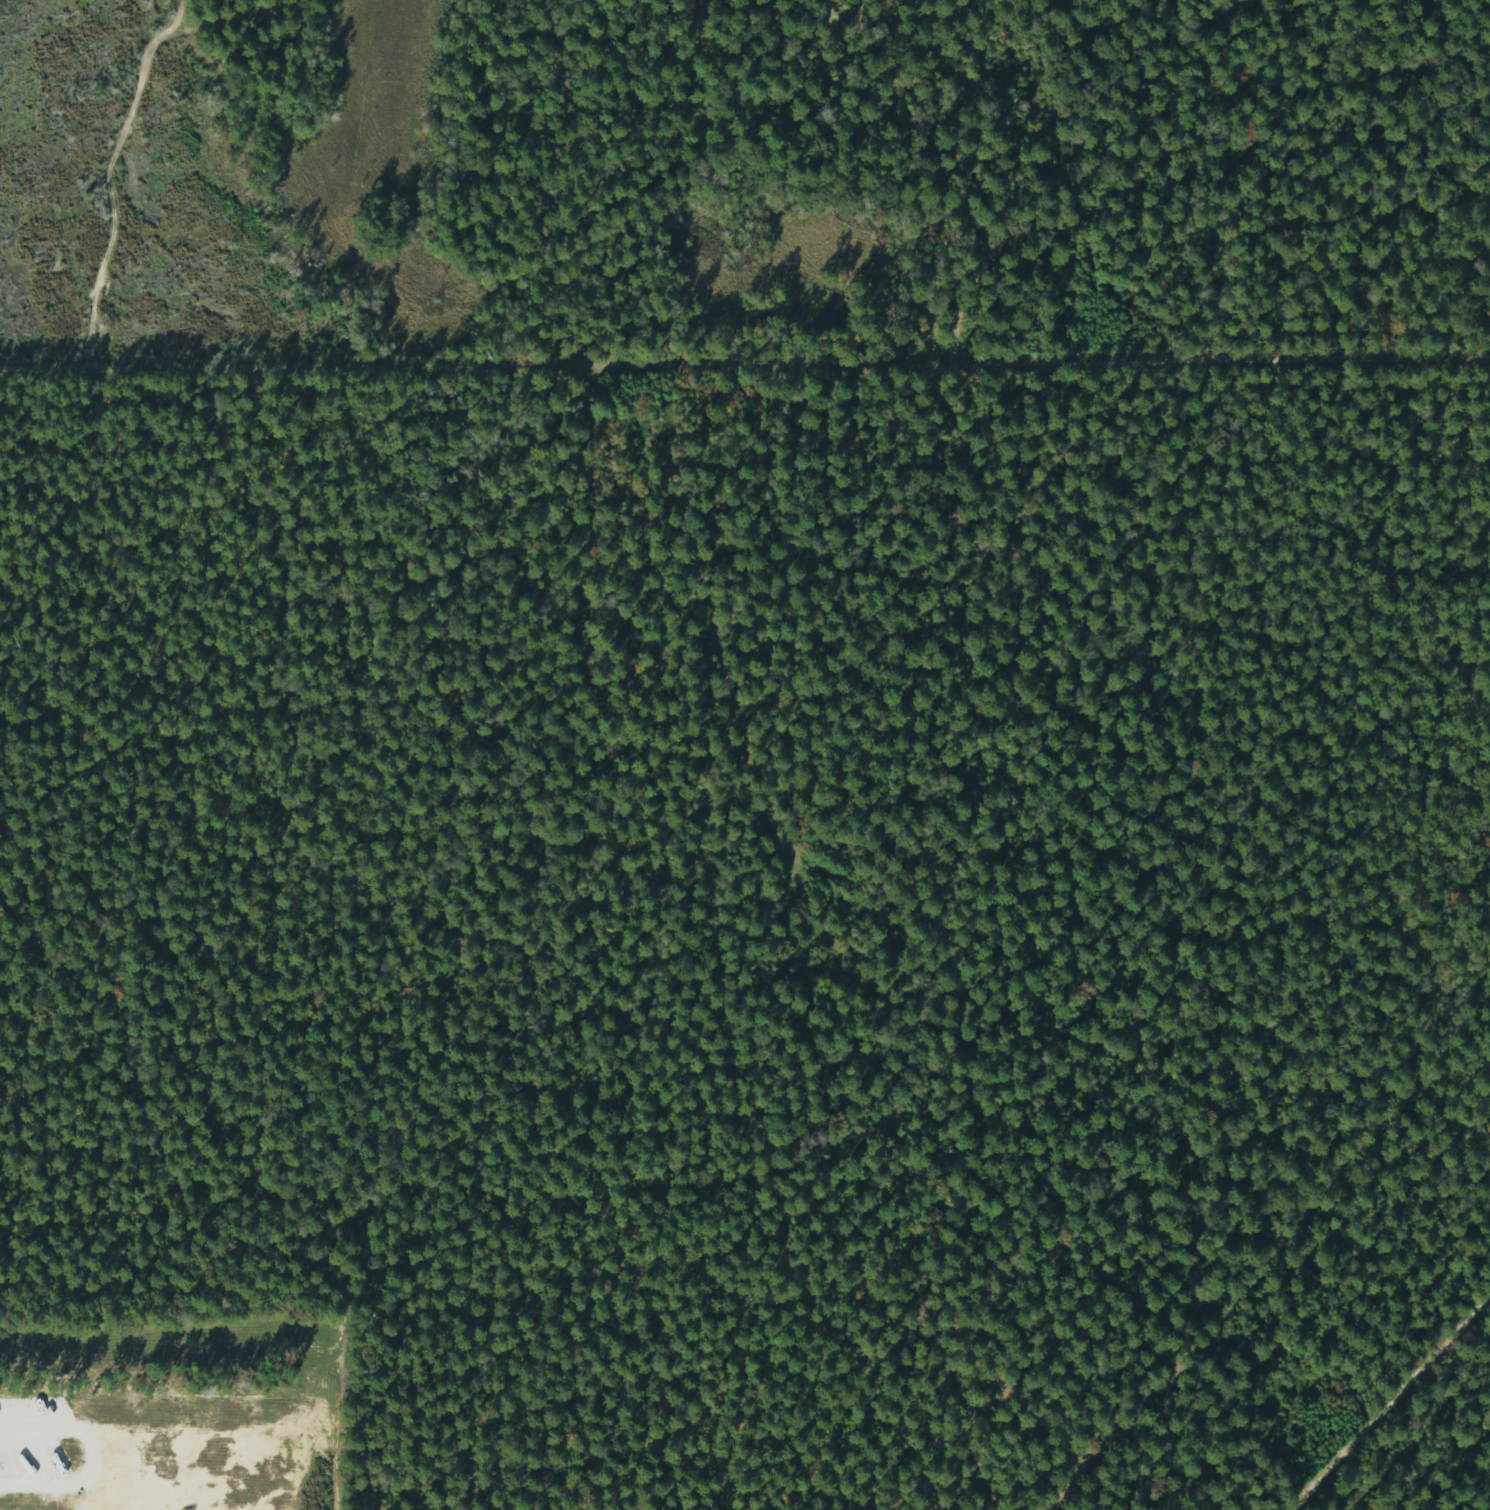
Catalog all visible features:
road: (745, 370)
road: (1388, 1398)

